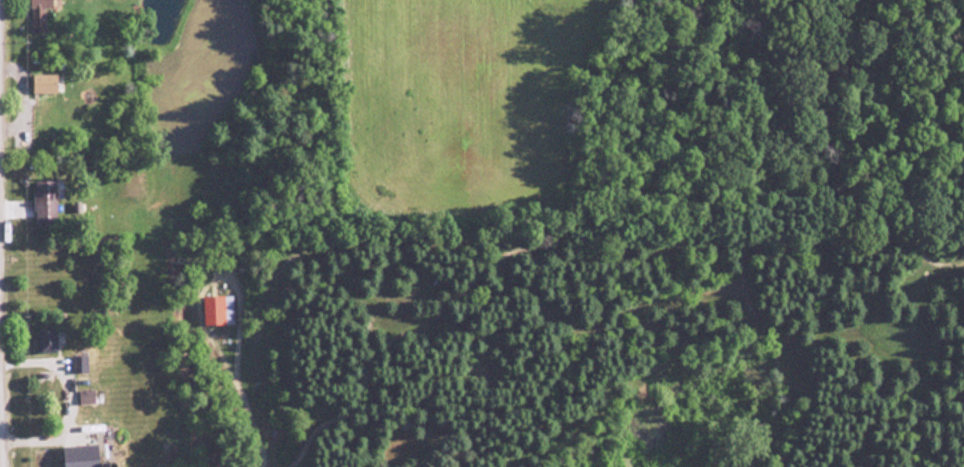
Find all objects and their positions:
building: (37, 14)
building: (42, 83)
building: (43, 201)
building: (216, 309)
building: (45, 341)
road: (1, 348)
building: (77, 363)
road: (1, 390)
building: (84, 396)
building: (79, 455)

